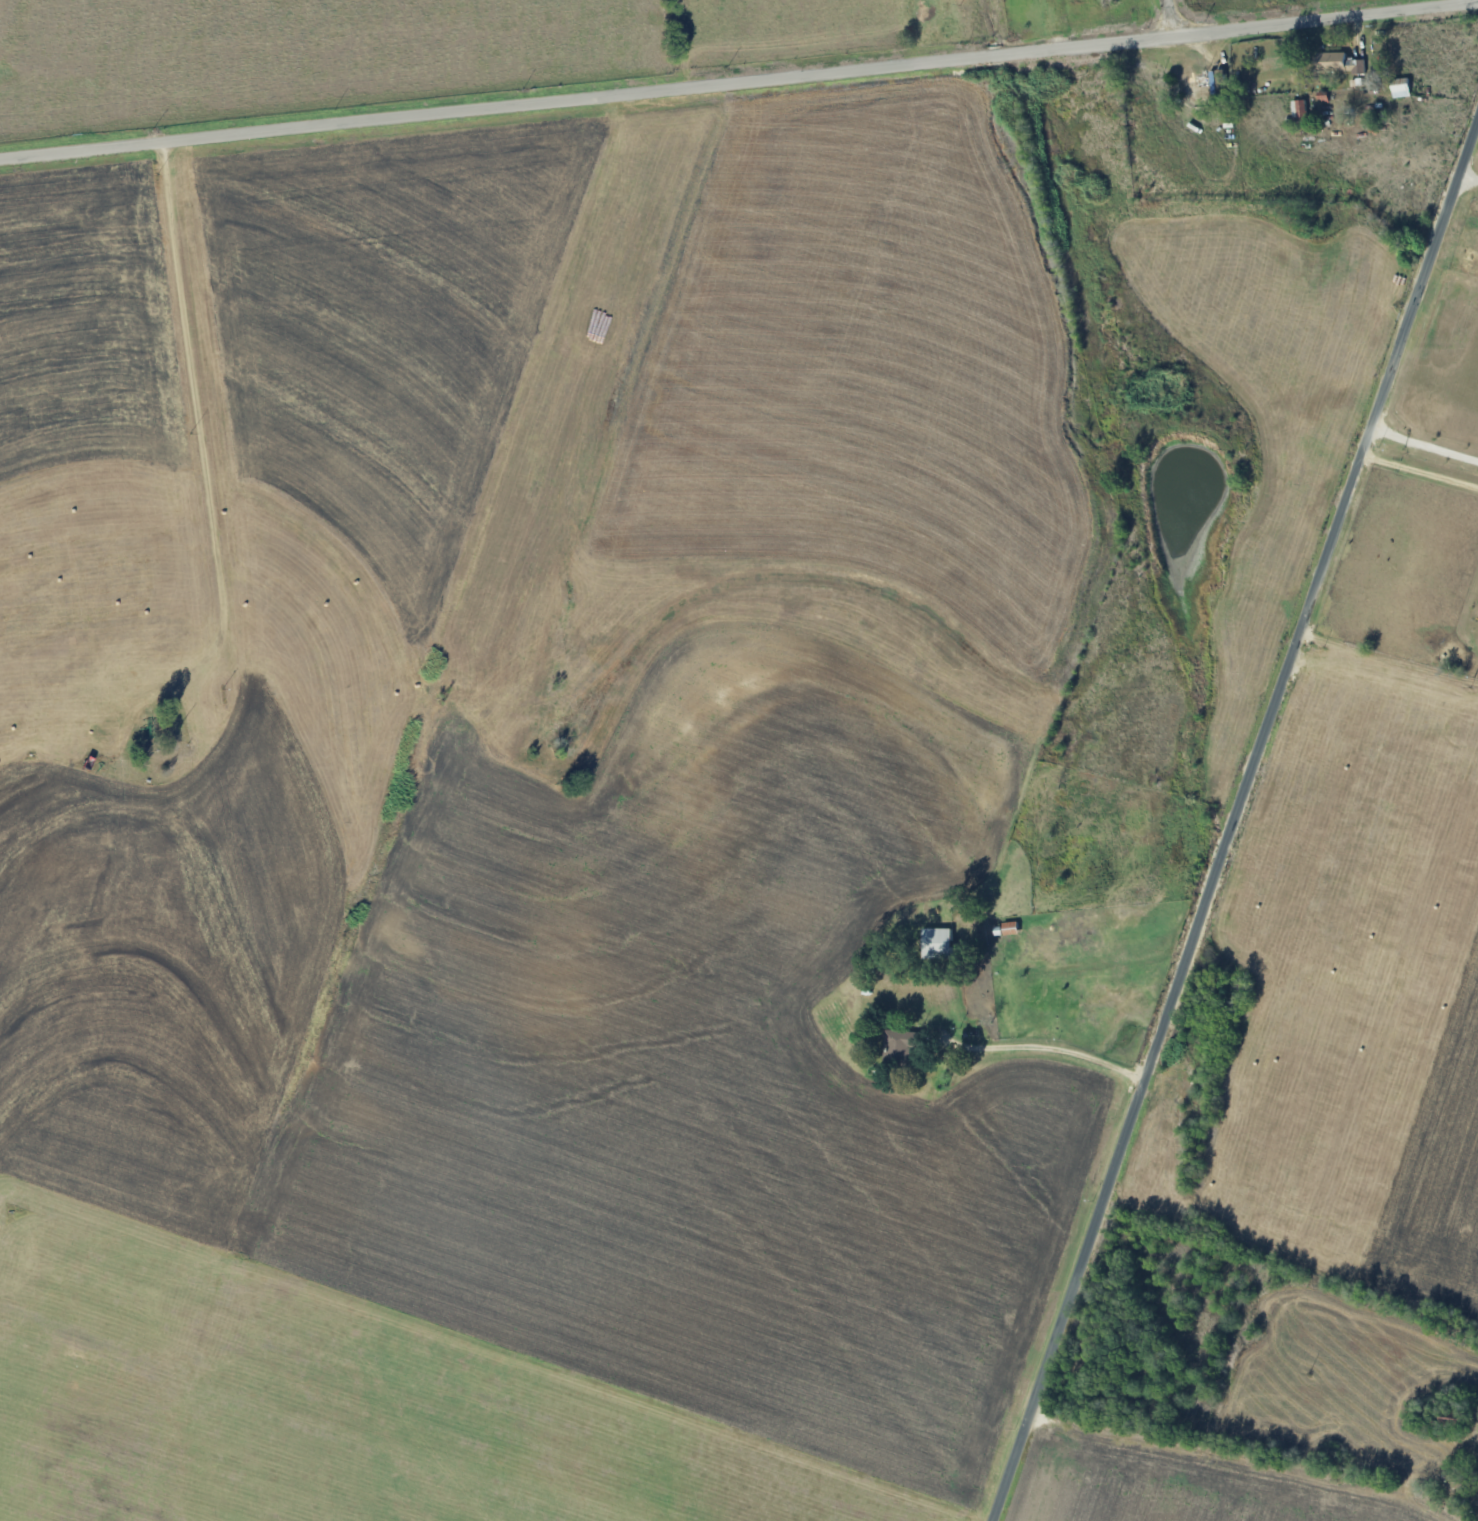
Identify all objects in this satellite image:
road: (1167, 19)
building: (1337, 63)
road: (739, 82)
building: (1399, 88)
building: (1321, 96)
building: (1298, 111)
road: (1467, 186)
road: (202, 426)
road: (1423, 457)
road: (1391, 647)
road: (1235, 821)
building: (935, 943)
building: (899, 1046)
road: (1047, 1048)

